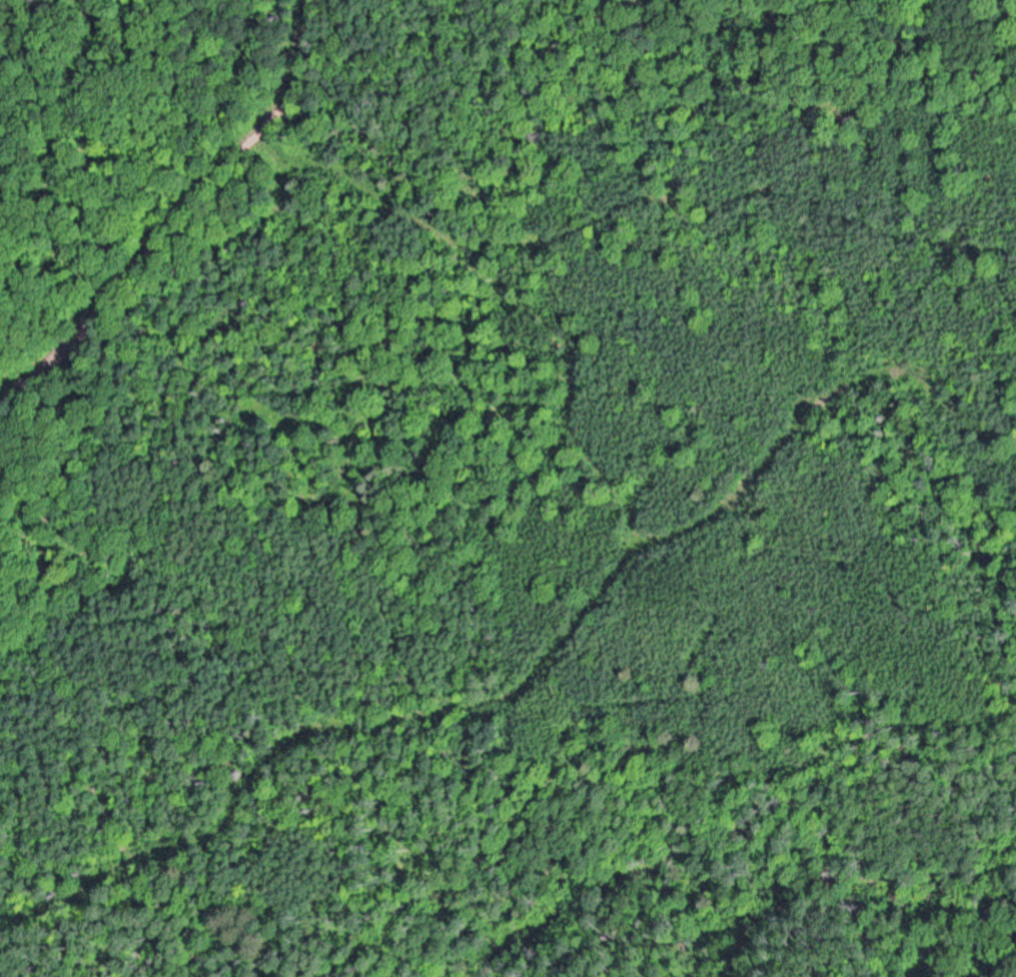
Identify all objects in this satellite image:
road: (181, 220)

